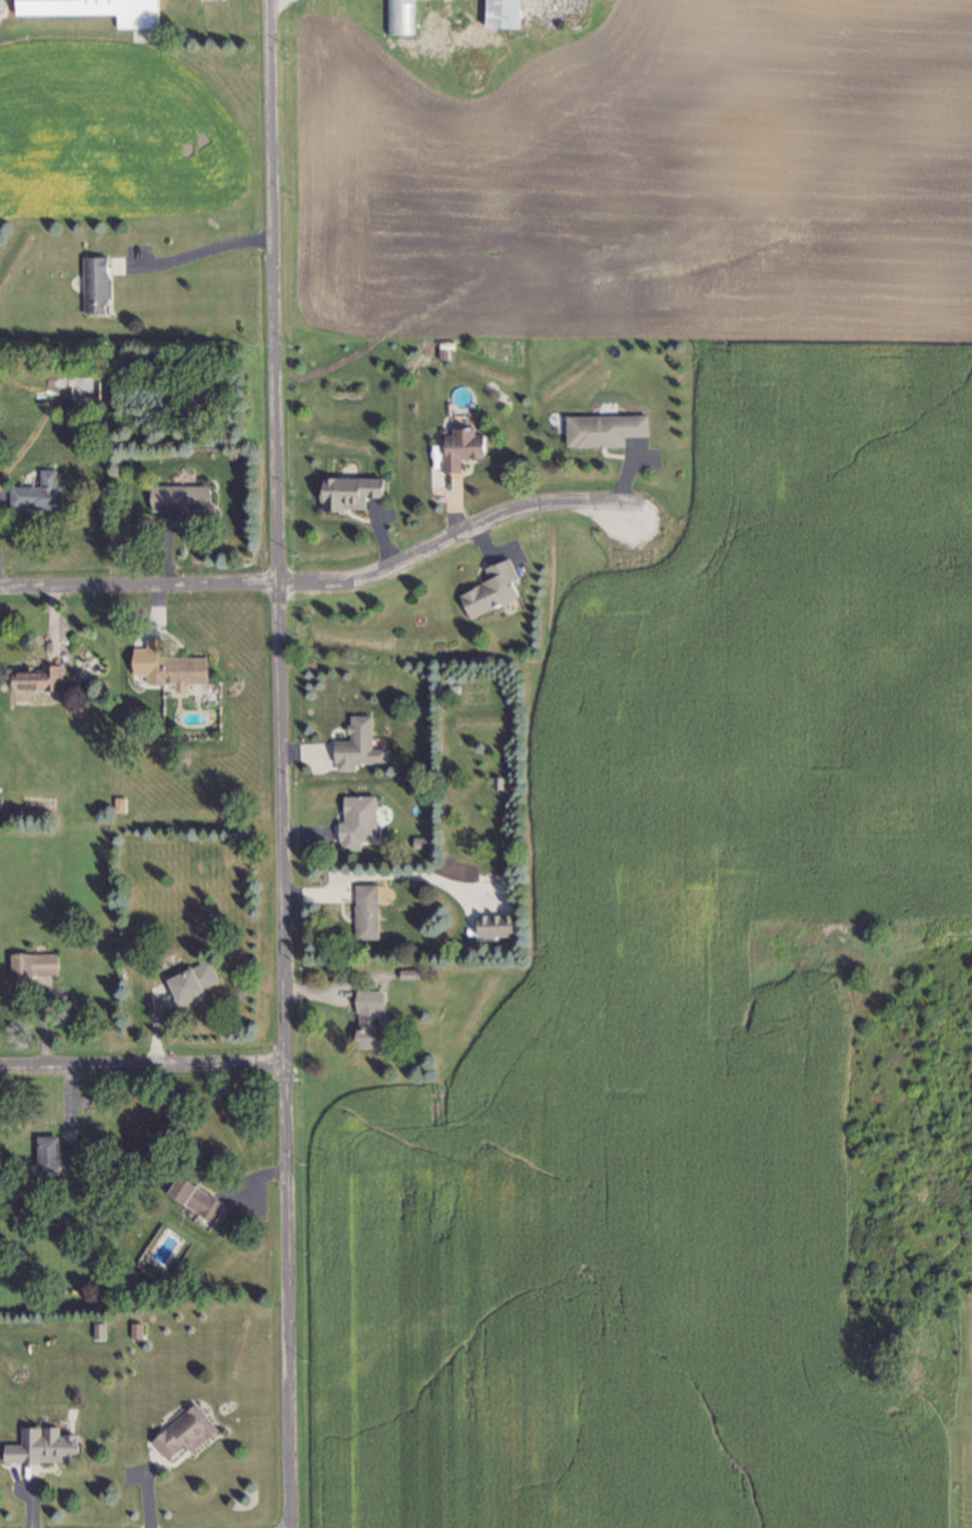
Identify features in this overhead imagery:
building: (93, 9)
building: (500, 13)
building: (397, 16)
building: (424, 24)
building: (457, 48)
building: (487, 48)
building: (424, 49)
building: (402, 50)
road: (190, 254)
building: (92, 278)
building: (601, 428)
building: (459, 446)
building: (346, 492)
building: (37, 496)
building: (177, 500)
road: (453, 536)
road: (136, 584)
building: (488, 587)
building: (174, 672)
building: (34, 673)
building: (353, 744)
road: (275, 764)
building: (493, 779)
building: (499, 790)
building: (115, 799)
building: (0, 805)
building: (119, 805)
building: (362, 816)
building: (418, 841)
building: (364, 914)
building: (492, 923)
building: (32, 959)
building: (404, 971)
building: (189, 981)
building: (366, 1021)
road: (142, 1065)
building: (53, 1159)
building: (193, 1202)
building: (132, 1328)
building: (95, 1329)
building: (183, 1432)
building: (43, 1445)

